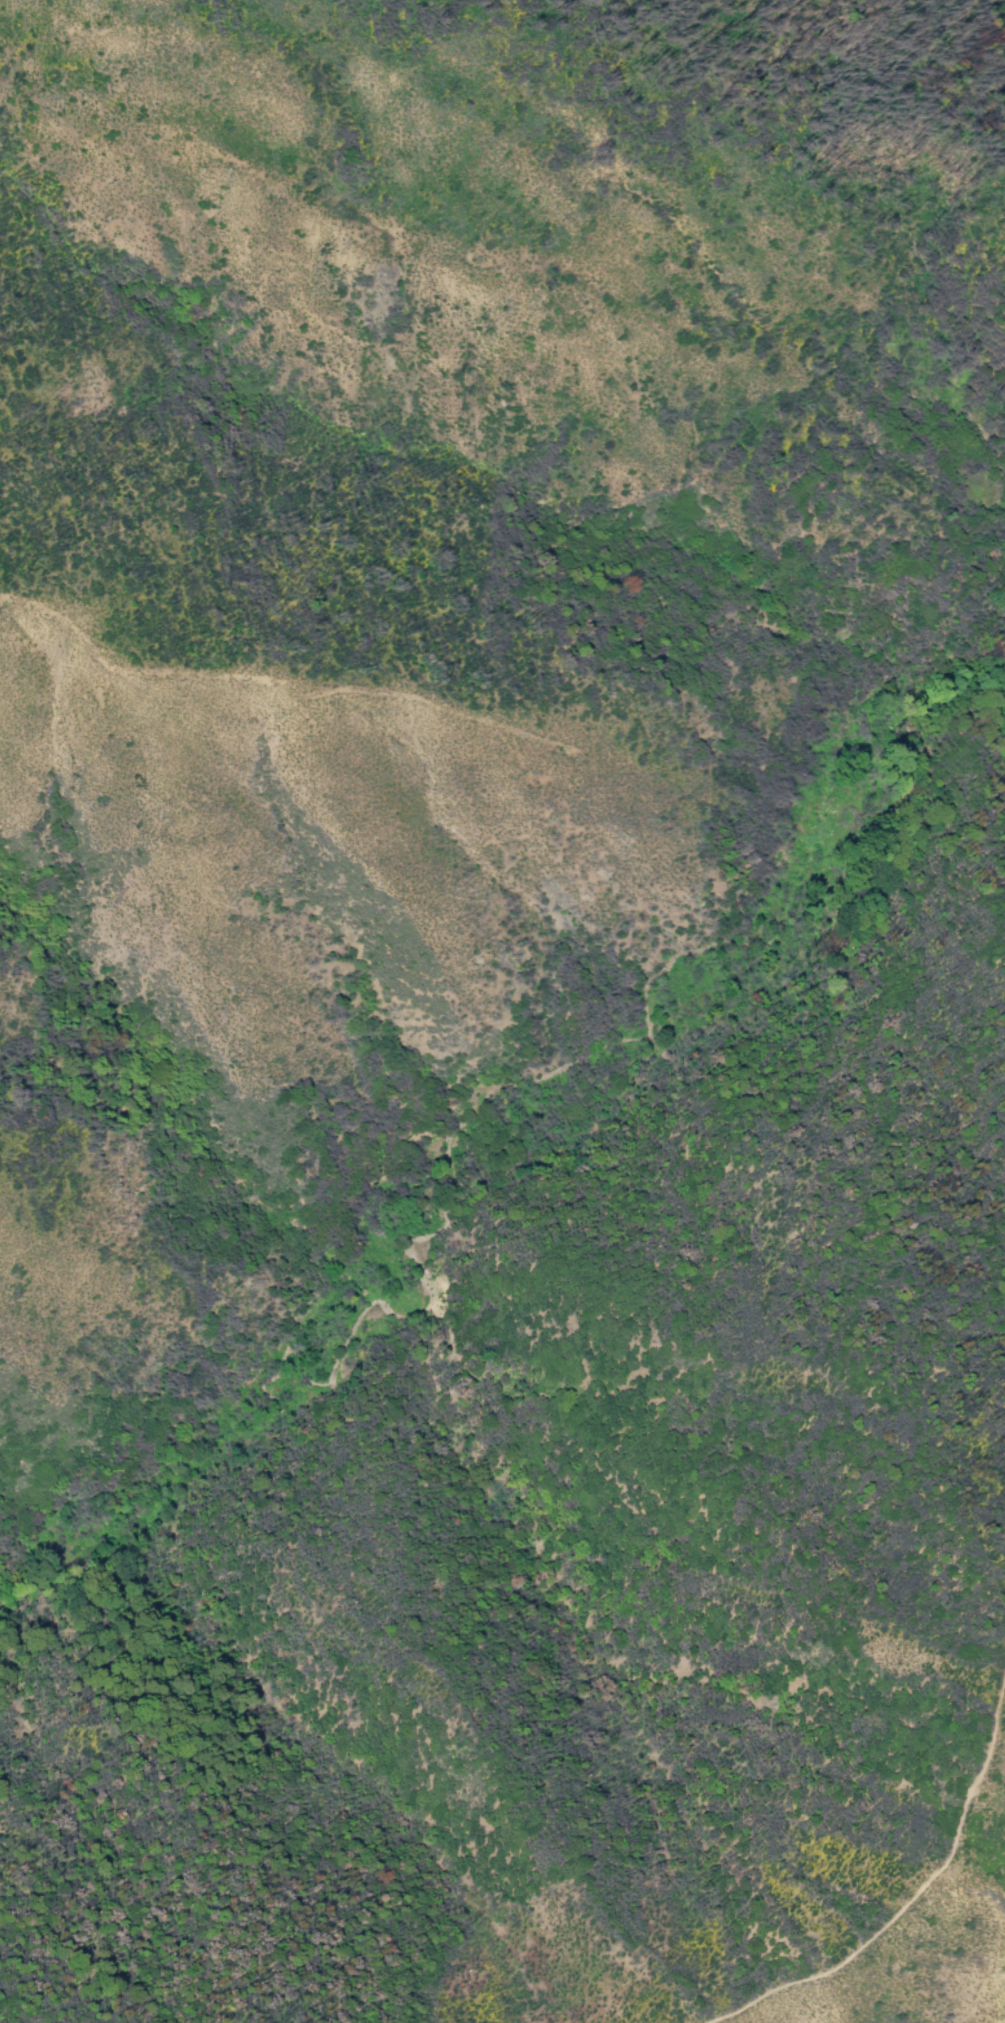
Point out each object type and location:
road: (913, 1900)

